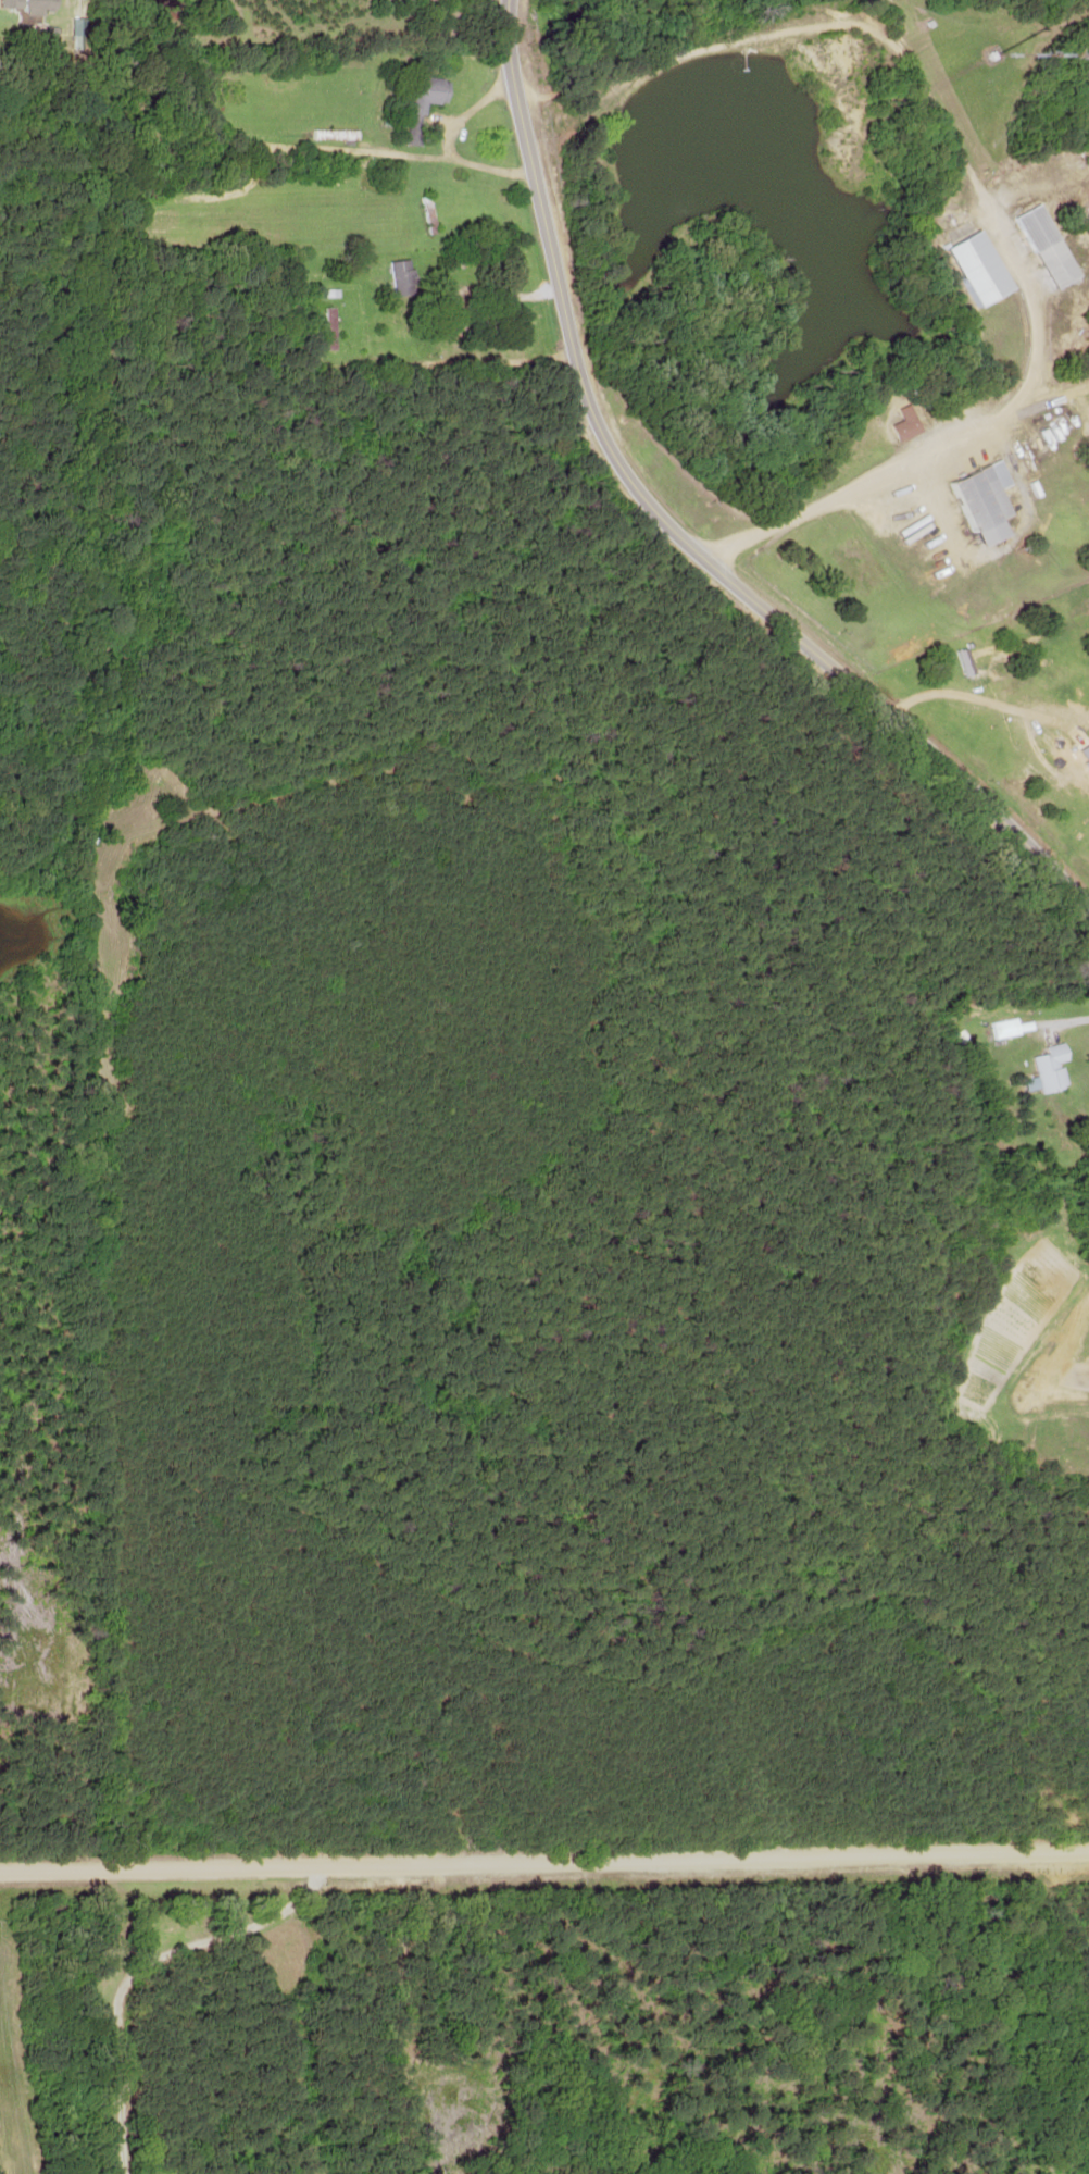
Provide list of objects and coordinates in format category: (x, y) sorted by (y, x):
building: (37, 3)
building: (428, 101)
building: (335, 134)
road: (978, 191)
building: (429, 213)
building: (1048, 245)
building: (980, 266)
building: (453, 315)
building: (907, 423)
building: (987, 500)
road: (673, 526)
building: (1007, 1028)
building: (1052, 1067)
road: (544, 1861)

